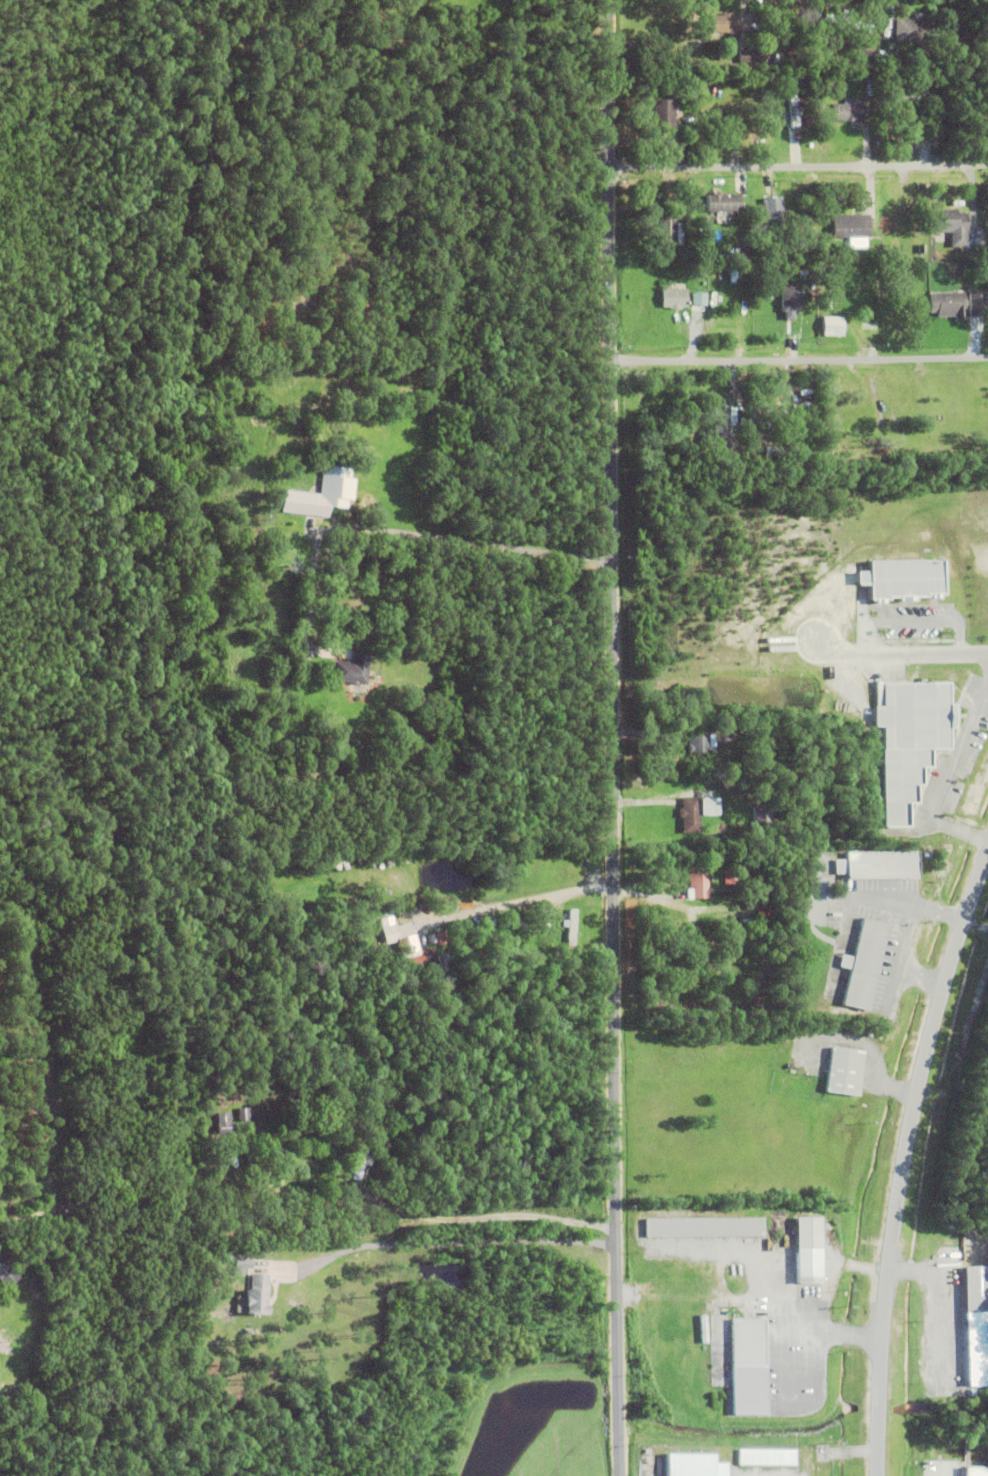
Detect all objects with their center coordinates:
building: (845, 19)
building: (723, 23)
building: (904, 29)
building: (750, 55)
building: (868, 55)
building: (679, 90)
building: (909, 93)
building: (792, 107)
building: (844, 112)
building: (771, 113)
building: (942, 113)
building: (664, 114)
building: (809, 119)
building: (677, 139)
road: (799, 167)
building: (724, 202)
building: (774, 212)
building: (811, 214)
building: (805, 215)
building: (748, 218)
building: (951, 225)
building: (851, 226)
building: (671, 228)
building: (875, 234)
building: (709, 251)
building: (723, 257)
building: (809, 276)
building: (832, 287)
building: (674, 298)
building: (696, 298)
building: (977, 303)
building: (947, 304)
building: (780, 305)
building: (833, 326)
road: (800, 360)
building: (723, 432)
building: (749, 446)
building: (773, 452)
building: (322, 493)
road: (410, 534)
building: (915, 536)
building: (903, 579)
road: (903, 652)
building: (354, 668)
building: (720, 730)
road: (614, 737)
building: (698, 741)
building: (910, 741)
building: (292, 751)
road: (951, 765)
building: (737, 791)
building: (690, 815)
building: (763, 819)
building: (878, 866)
building: (733, 878)
building: (699, 879)
road: (529, 899)
road: (908, 906)
building: (743, 919)
building: (571, 927)
building: (366, 928)
building: (439, 939)
building: (402, 942)
building: (382, 953)
road: (899, 958)
building: (855, 963)
building: (444, 966)
road: (922, 974)
building: (844, 1073)
building: (244, 1115)
building: (222, 1124)
building: (362, 1161)
road: (904, 1165)
building: (255, 1167)
road: (491, 1214)
building: (703, 1228)
building: (985, 1237)
road: (449, 1245)
road: (741, 1249)
building: (808, 1253)
road: (831, 1260)
building: (244, 1261)
building: (982, 1262)
building: (6, 1276)
building: (257, 1297)
road: (943, 1299)
building: (974, 1327)
road: (779, 1354)
building: (747, 1369)
building: (757, 1459)
building: (723, 1471)
building: (972, 1472)

